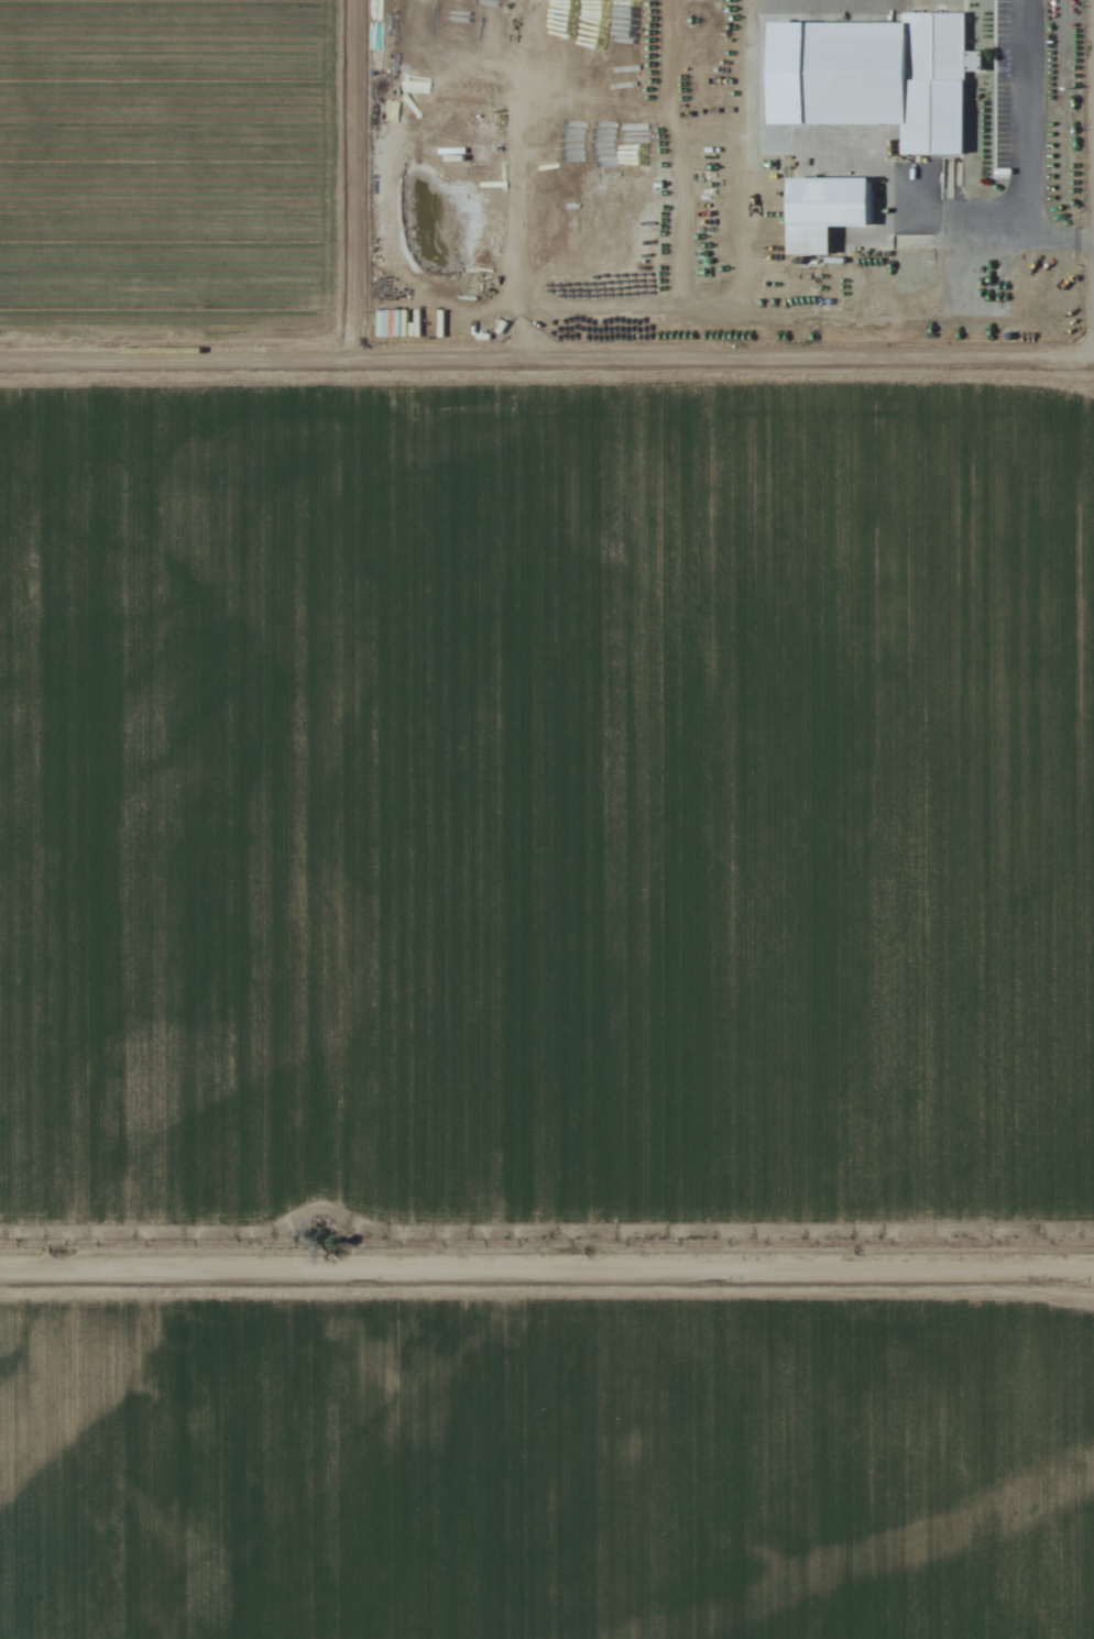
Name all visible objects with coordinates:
building: (893, 79)
building: (825, 212)
road: (547, 354)
road: (547, 1270)

